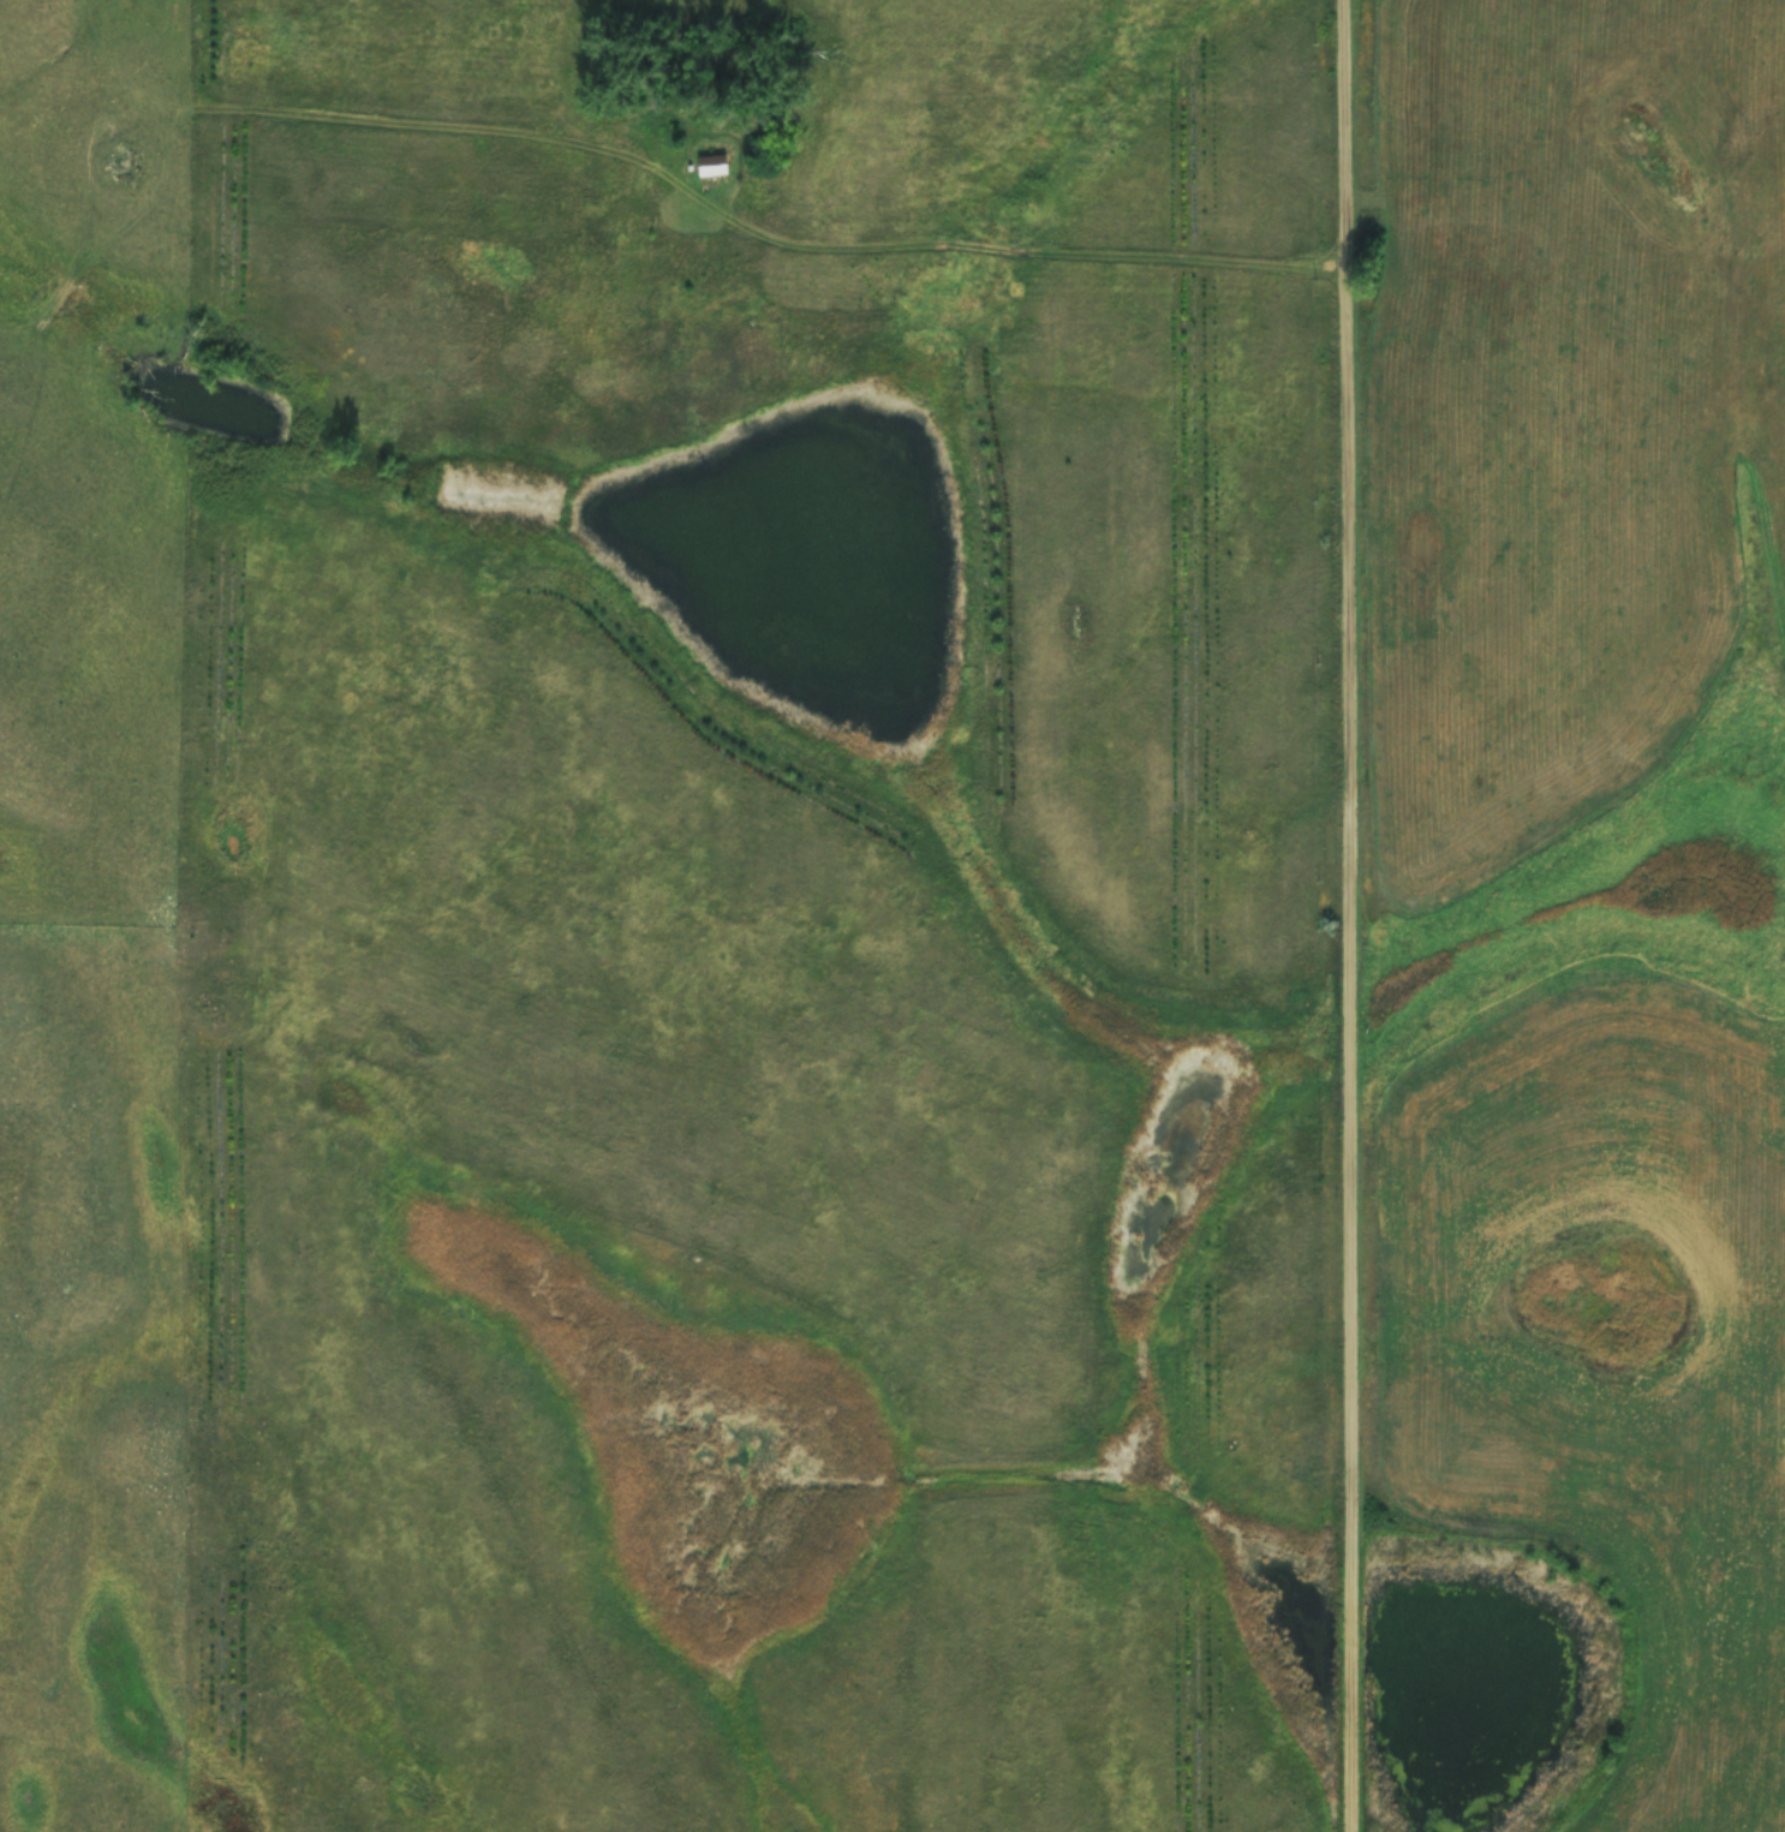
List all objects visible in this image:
building: (728, 153)
road: (1349, 915)
road: (891, 981)

